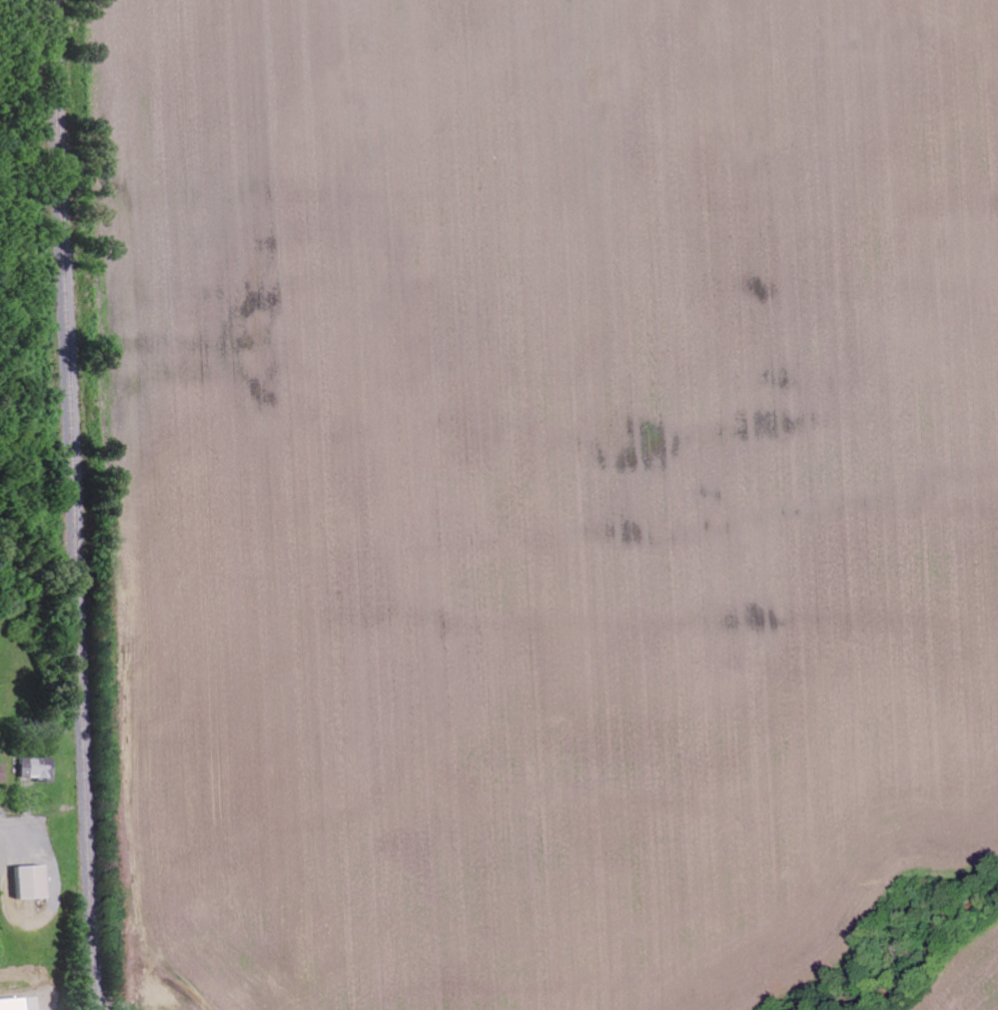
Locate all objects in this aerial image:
railway: (75, 504)
building: (36, 767)
building: (1, 772)
road: (21, 819)
building: (32, 882)

